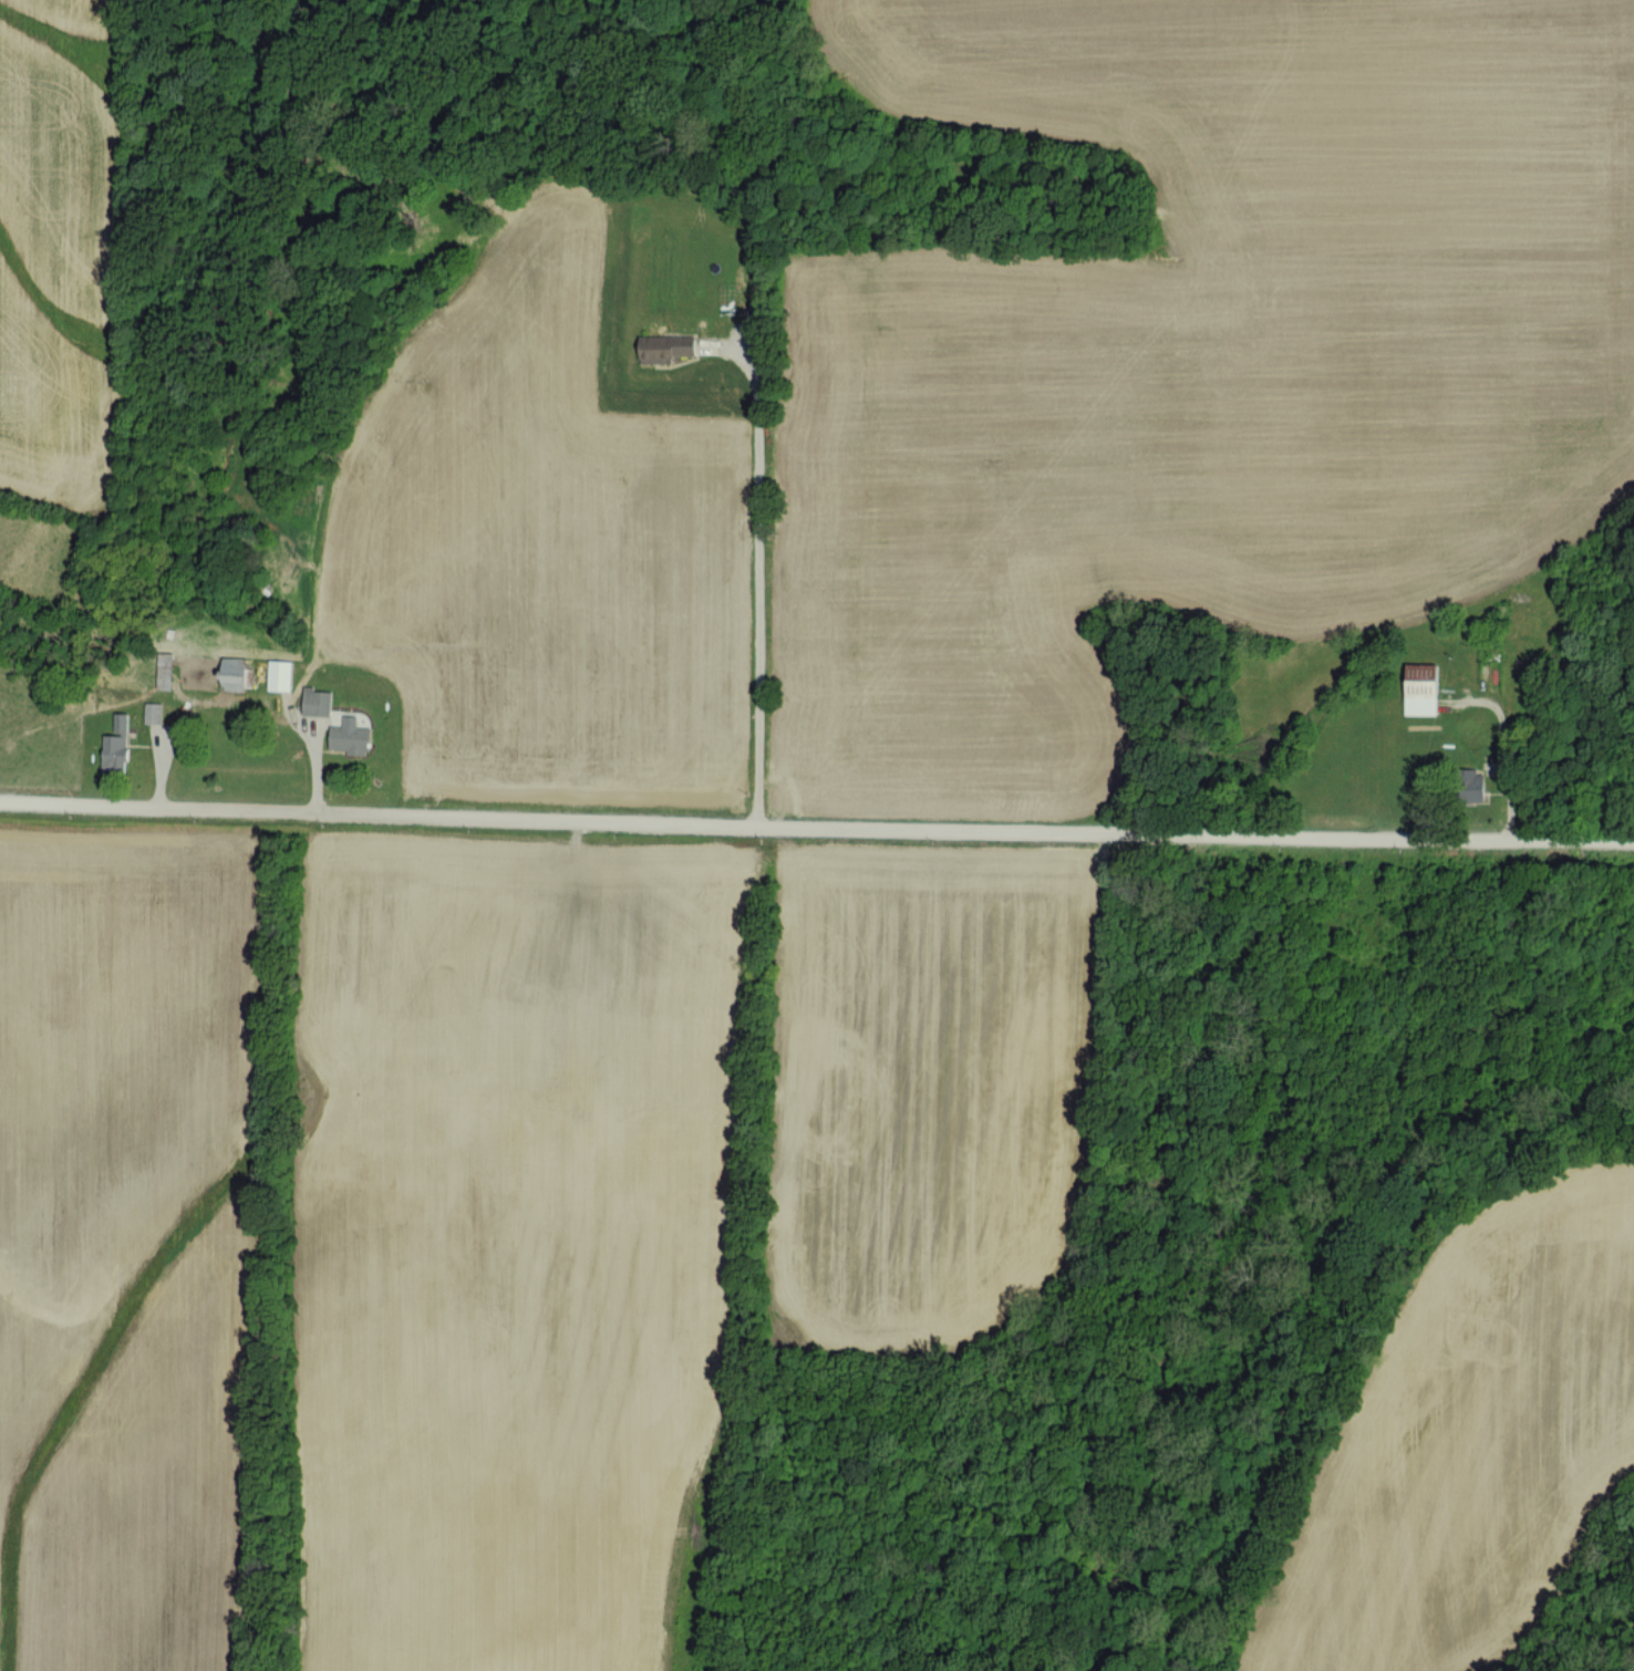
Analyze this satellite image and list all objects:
building: (668, 347)
road: (761, 584)
building: (234, 674)
building: (280, 676)
building: (1423, 688)
building: (317, 702)
building: (351, 738)
road: (1518, 747)
building: (1473, 785)
road: (816, 828)

